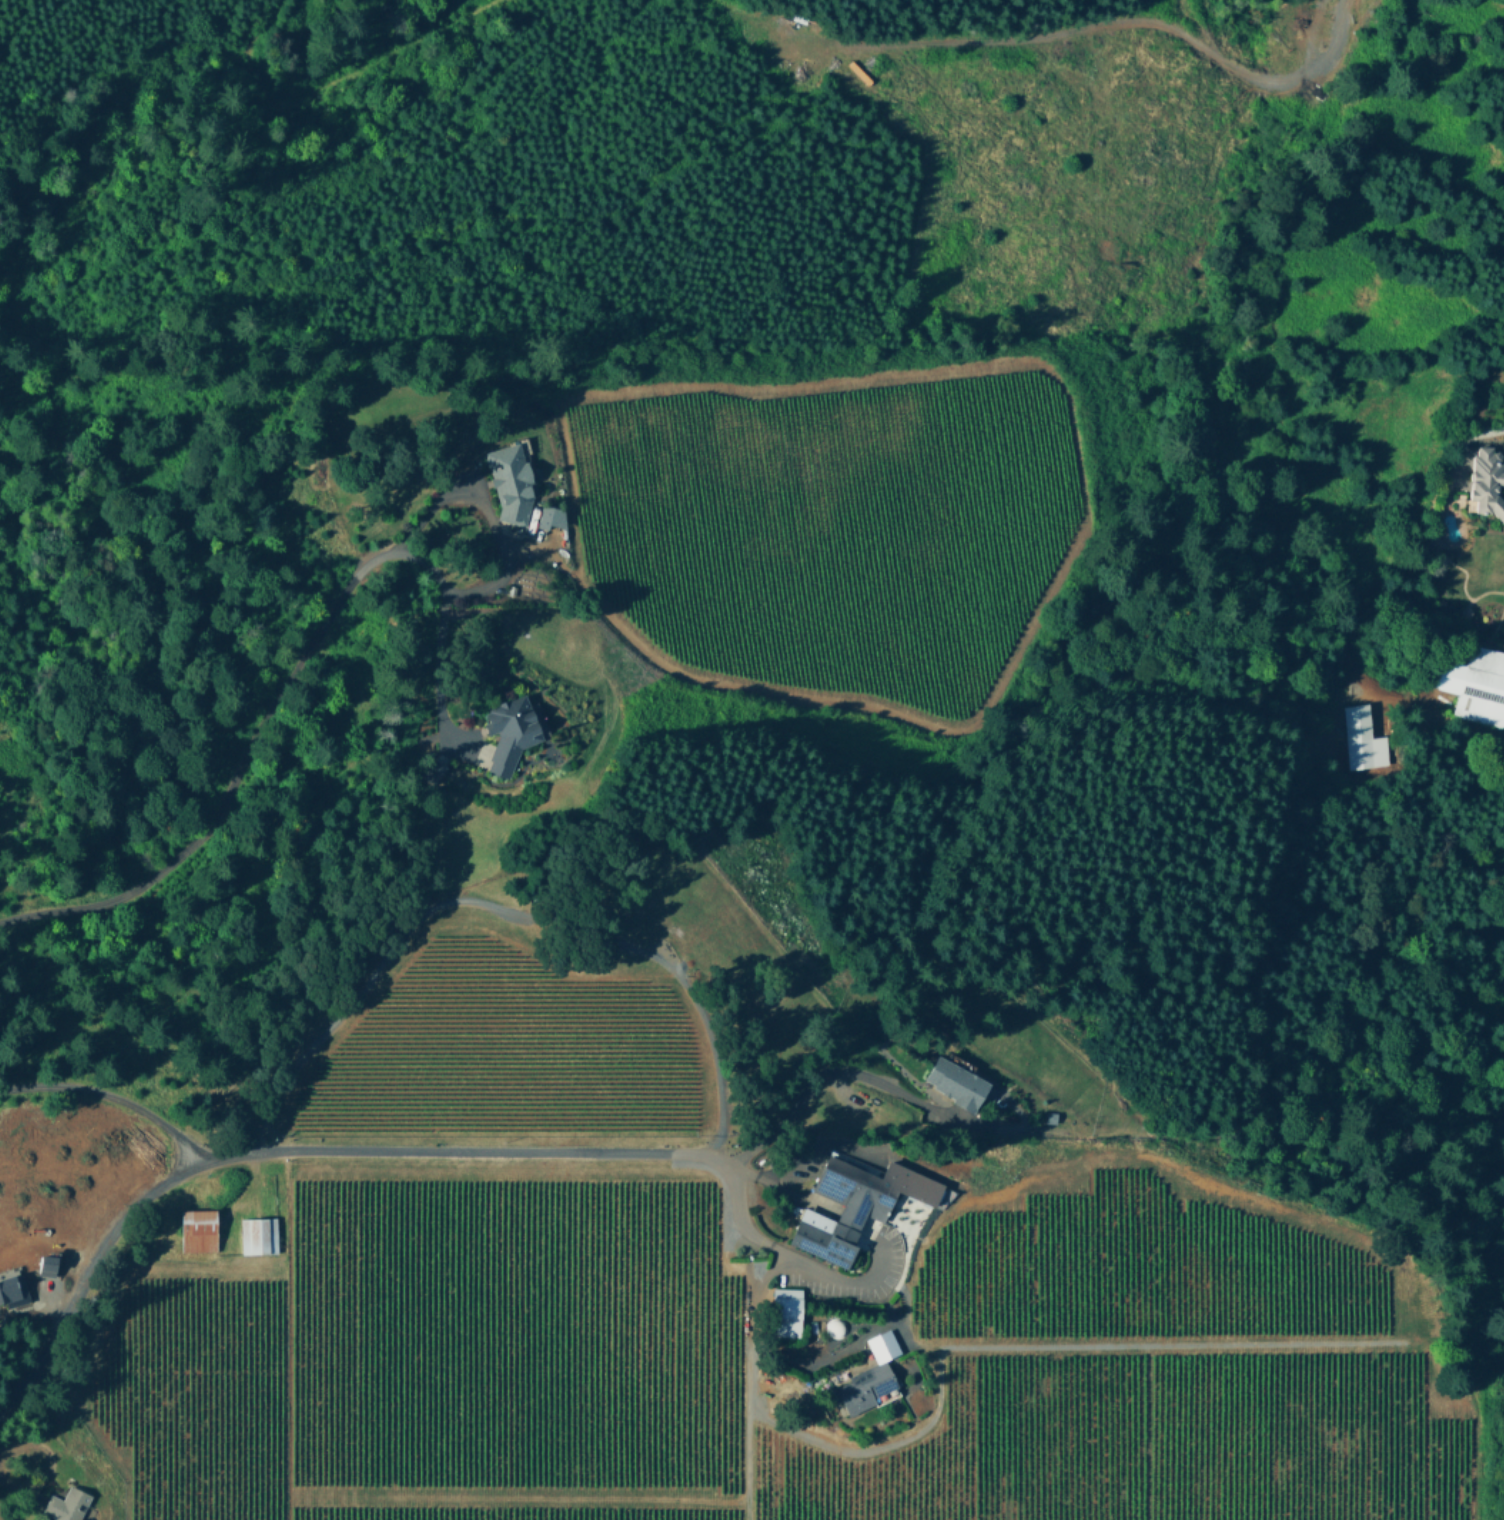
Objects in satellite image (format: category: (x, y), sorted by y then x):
building: (1486, 481)
building: (509, 482)
road: (492, 513)
building: (550, 516)
road: (437, 643)
building: (1482, 686)
building: (1359, 722)
building: (508, 731)
building: (484, 752)
road: (235, 777)
road: (813, 1076)
building: (954, 1081)
road: (110, 1095)
road: (287, 1148)
building: (855, 1203)
building: (197, 1229)
road: (755, 1230)
building: (258, 1234)
building: (44, 1263)
building: (12, 1289)
building: (787, 1310)
building: (870, 1374)
building: (67, 1504)

